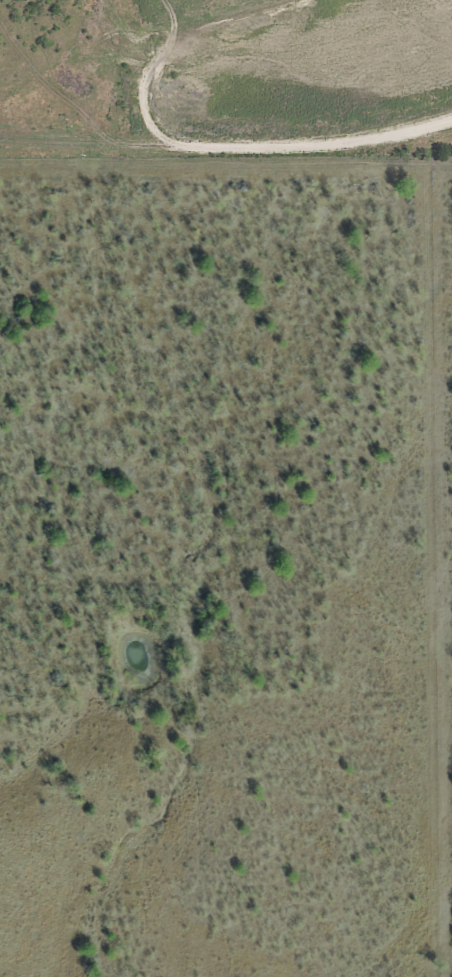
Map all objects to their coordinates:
road: (316, 143)

